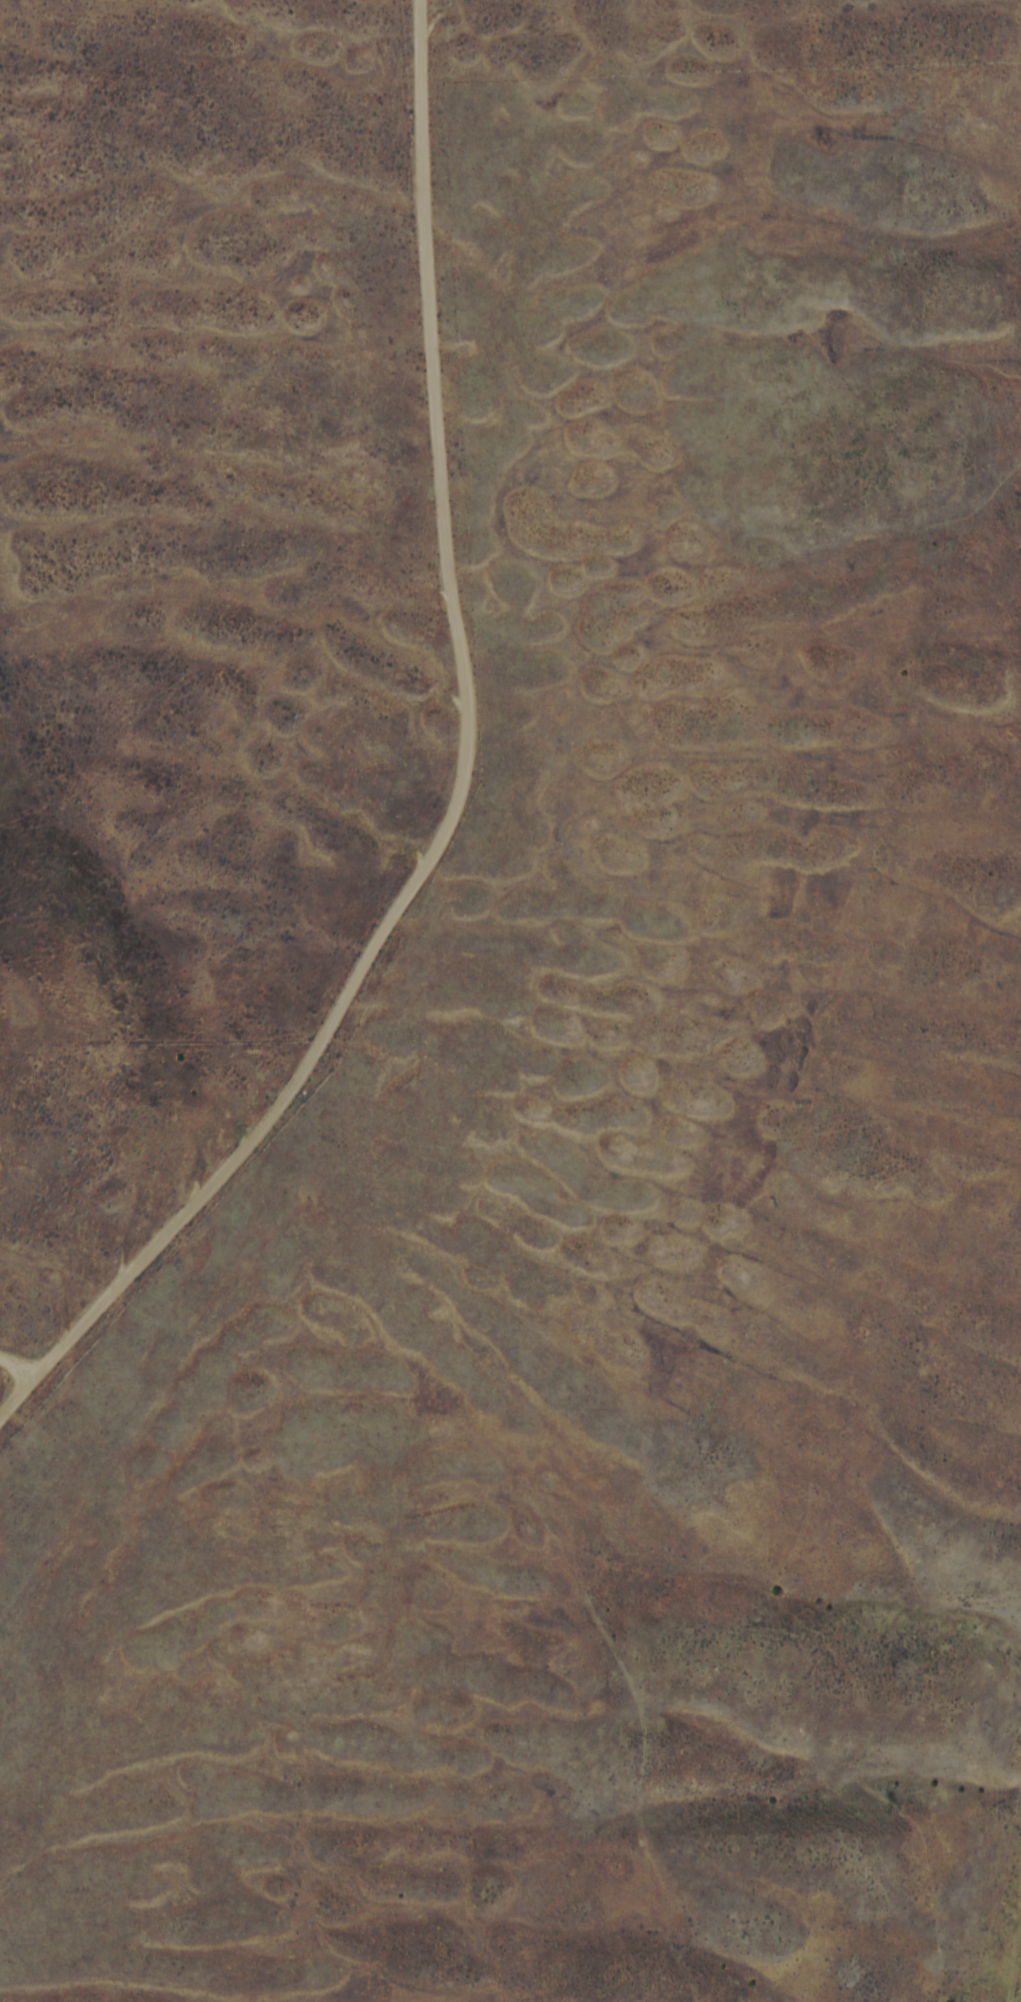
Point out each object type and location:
road: (459, 782)
road: (17, 1363)

